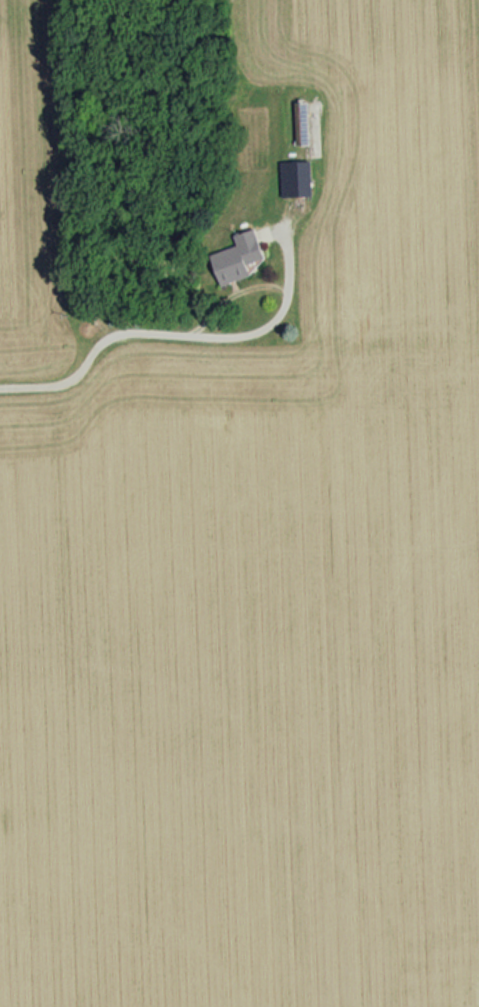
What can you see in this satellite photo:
building: (240, 256)
road: (160, 326)

